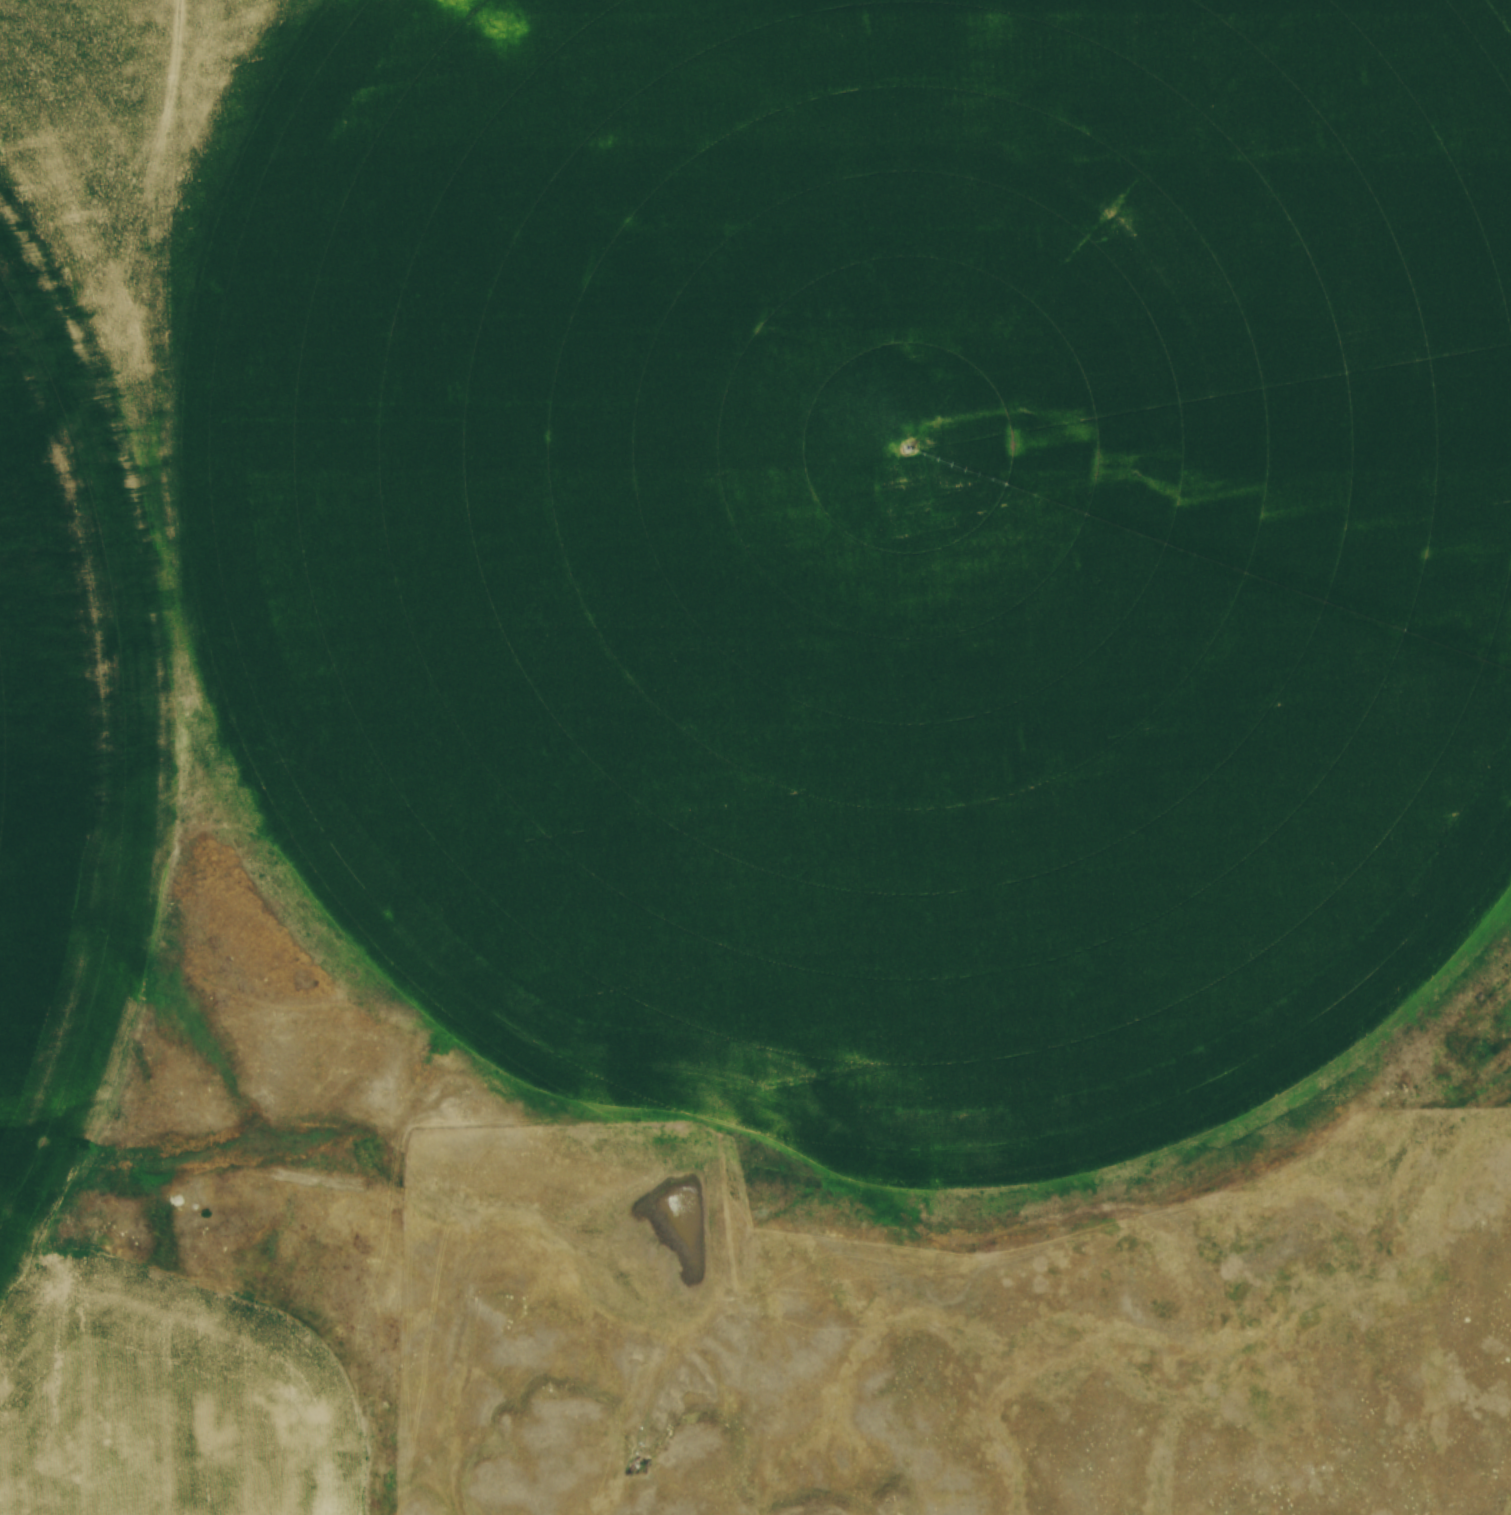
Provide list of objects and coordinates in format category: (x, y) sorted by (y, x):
crop: (741, 584)
dam: (723, 1212)

